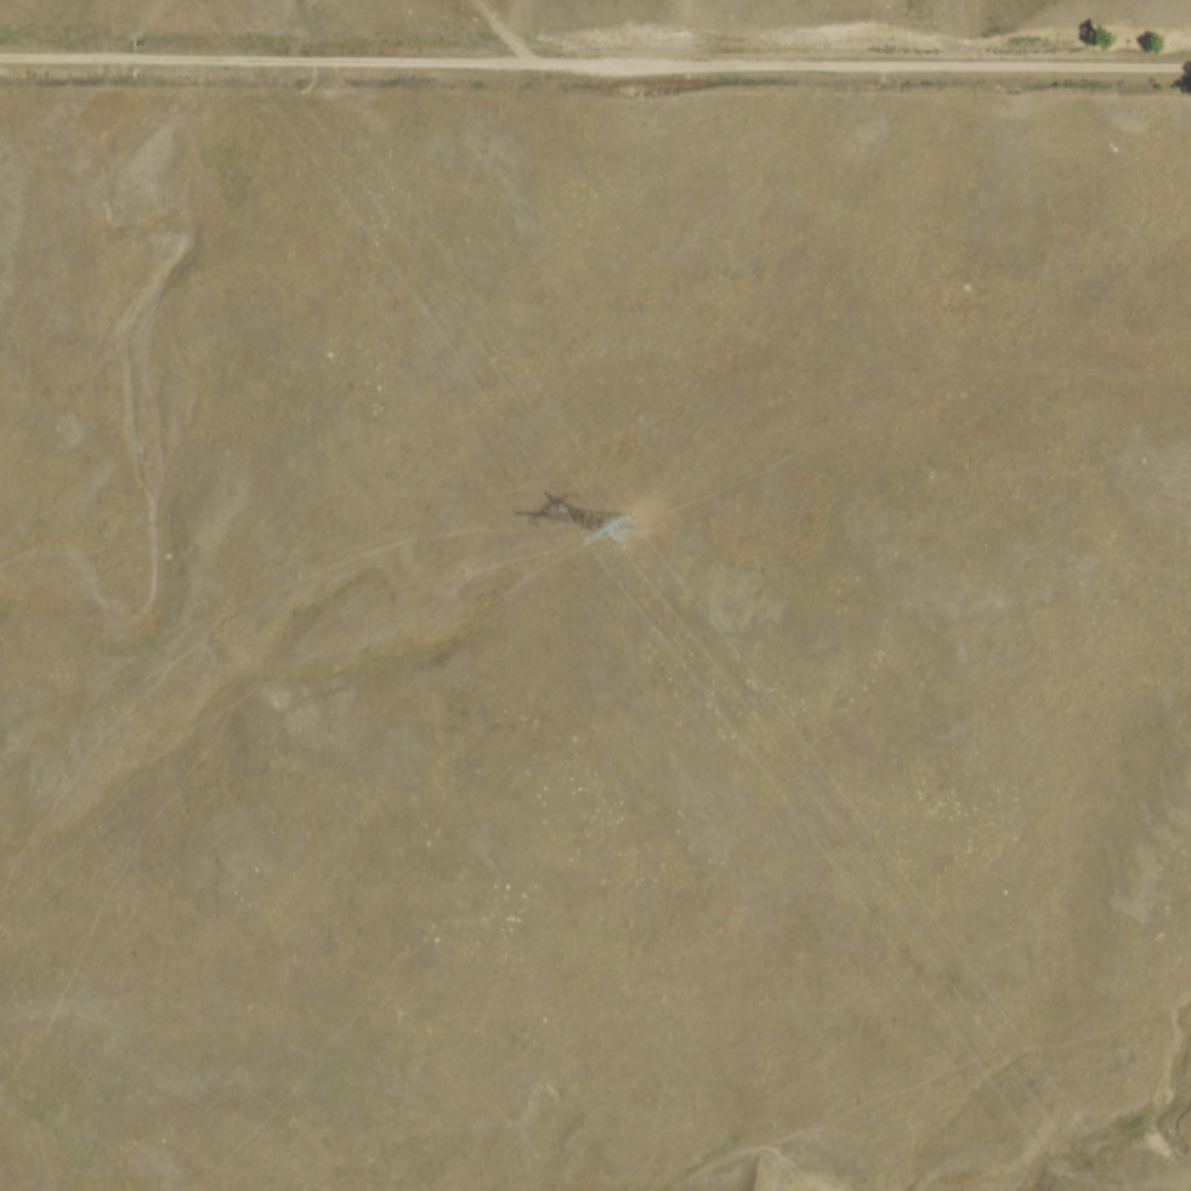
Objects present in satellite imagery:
road: (595, 61)
power tower: (622, 529)

